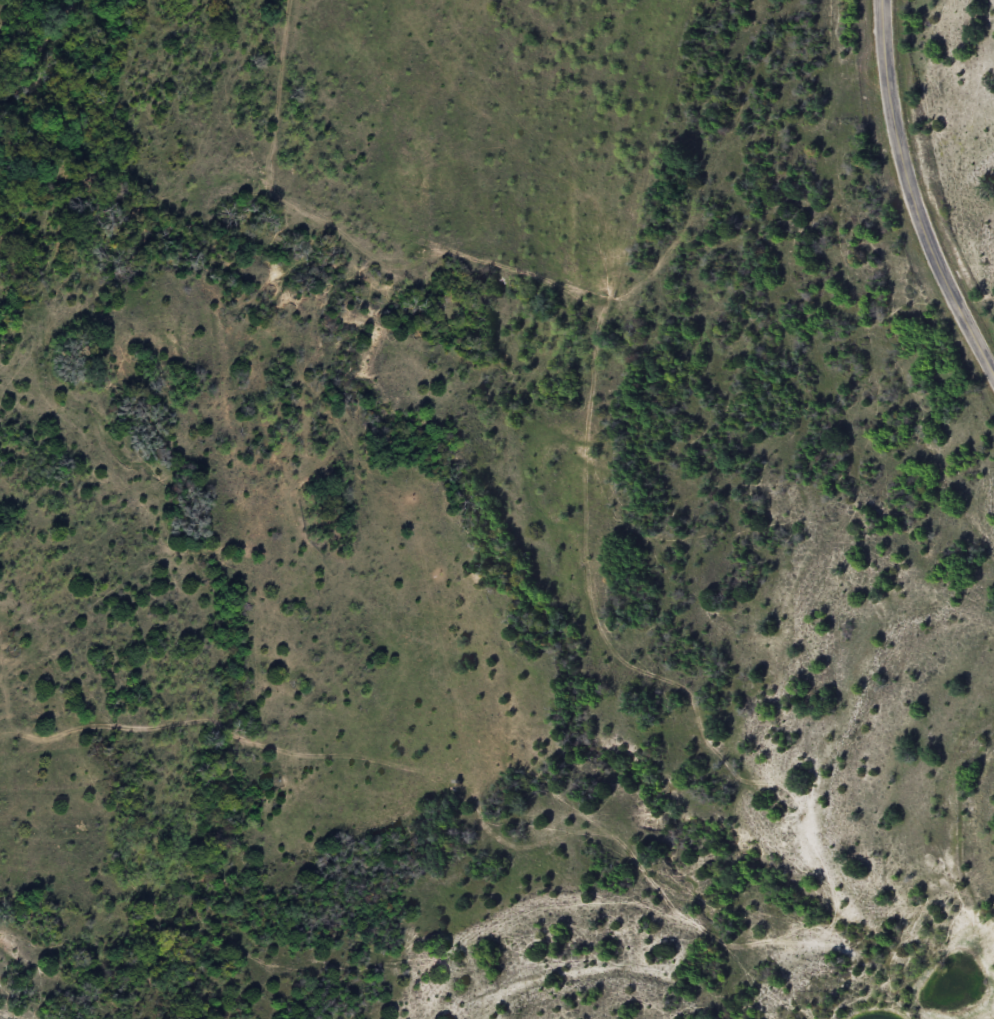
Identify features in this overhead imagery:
road: (913, 194)

